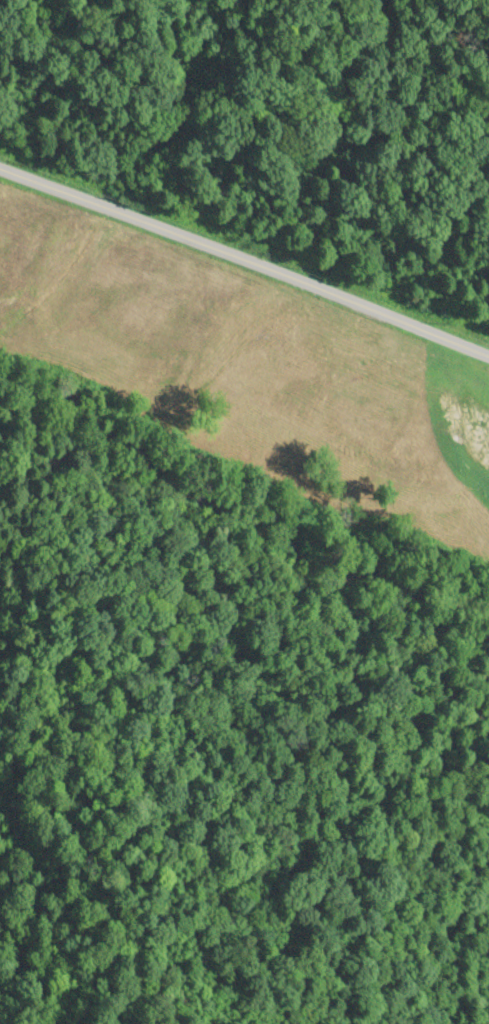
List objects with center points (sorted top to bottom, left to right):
road: (244, 270)
road: (151, 387)

